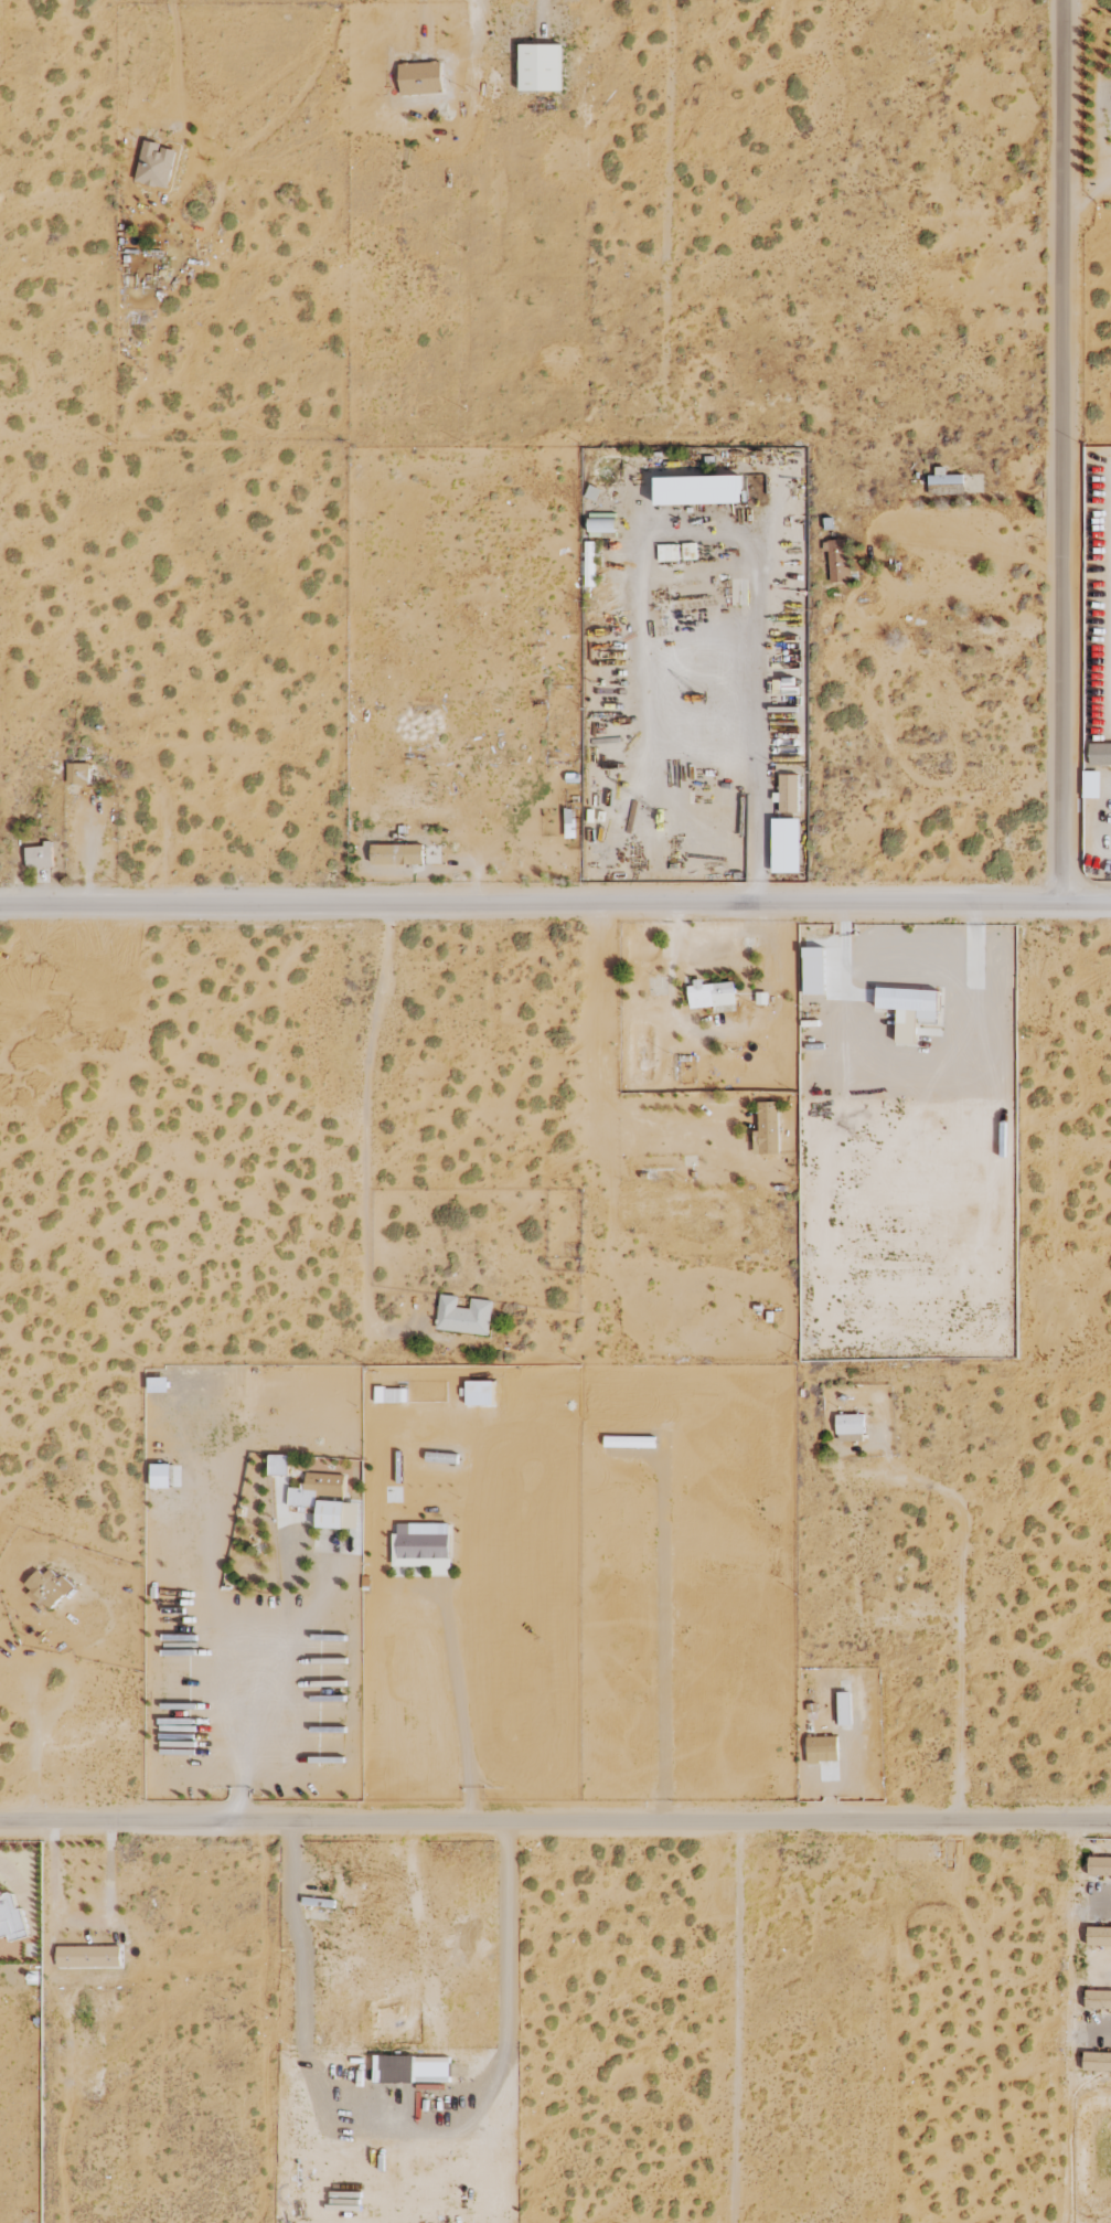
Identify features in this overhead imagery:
building: (156, 164)
road: (1061, 449)
building: (944, 477)
building: (698, 489)
building: (946, 489)
road: (744, 539)
building: (837, 561)
building: (588, 564)
building: (1100, 754)
building: (78, 774)
building: (788, 794)
building: (786, 845)
building: (397, 854)
building: (40, 855)
road: (555, 901)
building: (814, 970)
building: (711, 995)
building: (909, 1010)
road: (908, 1065)
road: (589, 1068)
building: (767, 1129)
road: (367, 1138)
building: (463, 1316)
building: (850, 1427)
building: (161, 1476)
building: (316, 1489)
building: (331, 1514)
building: (423, 1552)
building: (49, 1588)
road: (36, 1680)
road: (461, 1700)
building: (844, 1709)
road: (242, 1721)
building: (822, 1748)
road: (555, 1822)
building: (1099, 1865)
building: (11, 1916)
building: (1099, 1936)
building: (88, 1956)
building: (1098, 2000)
building: (1097, 2062)

